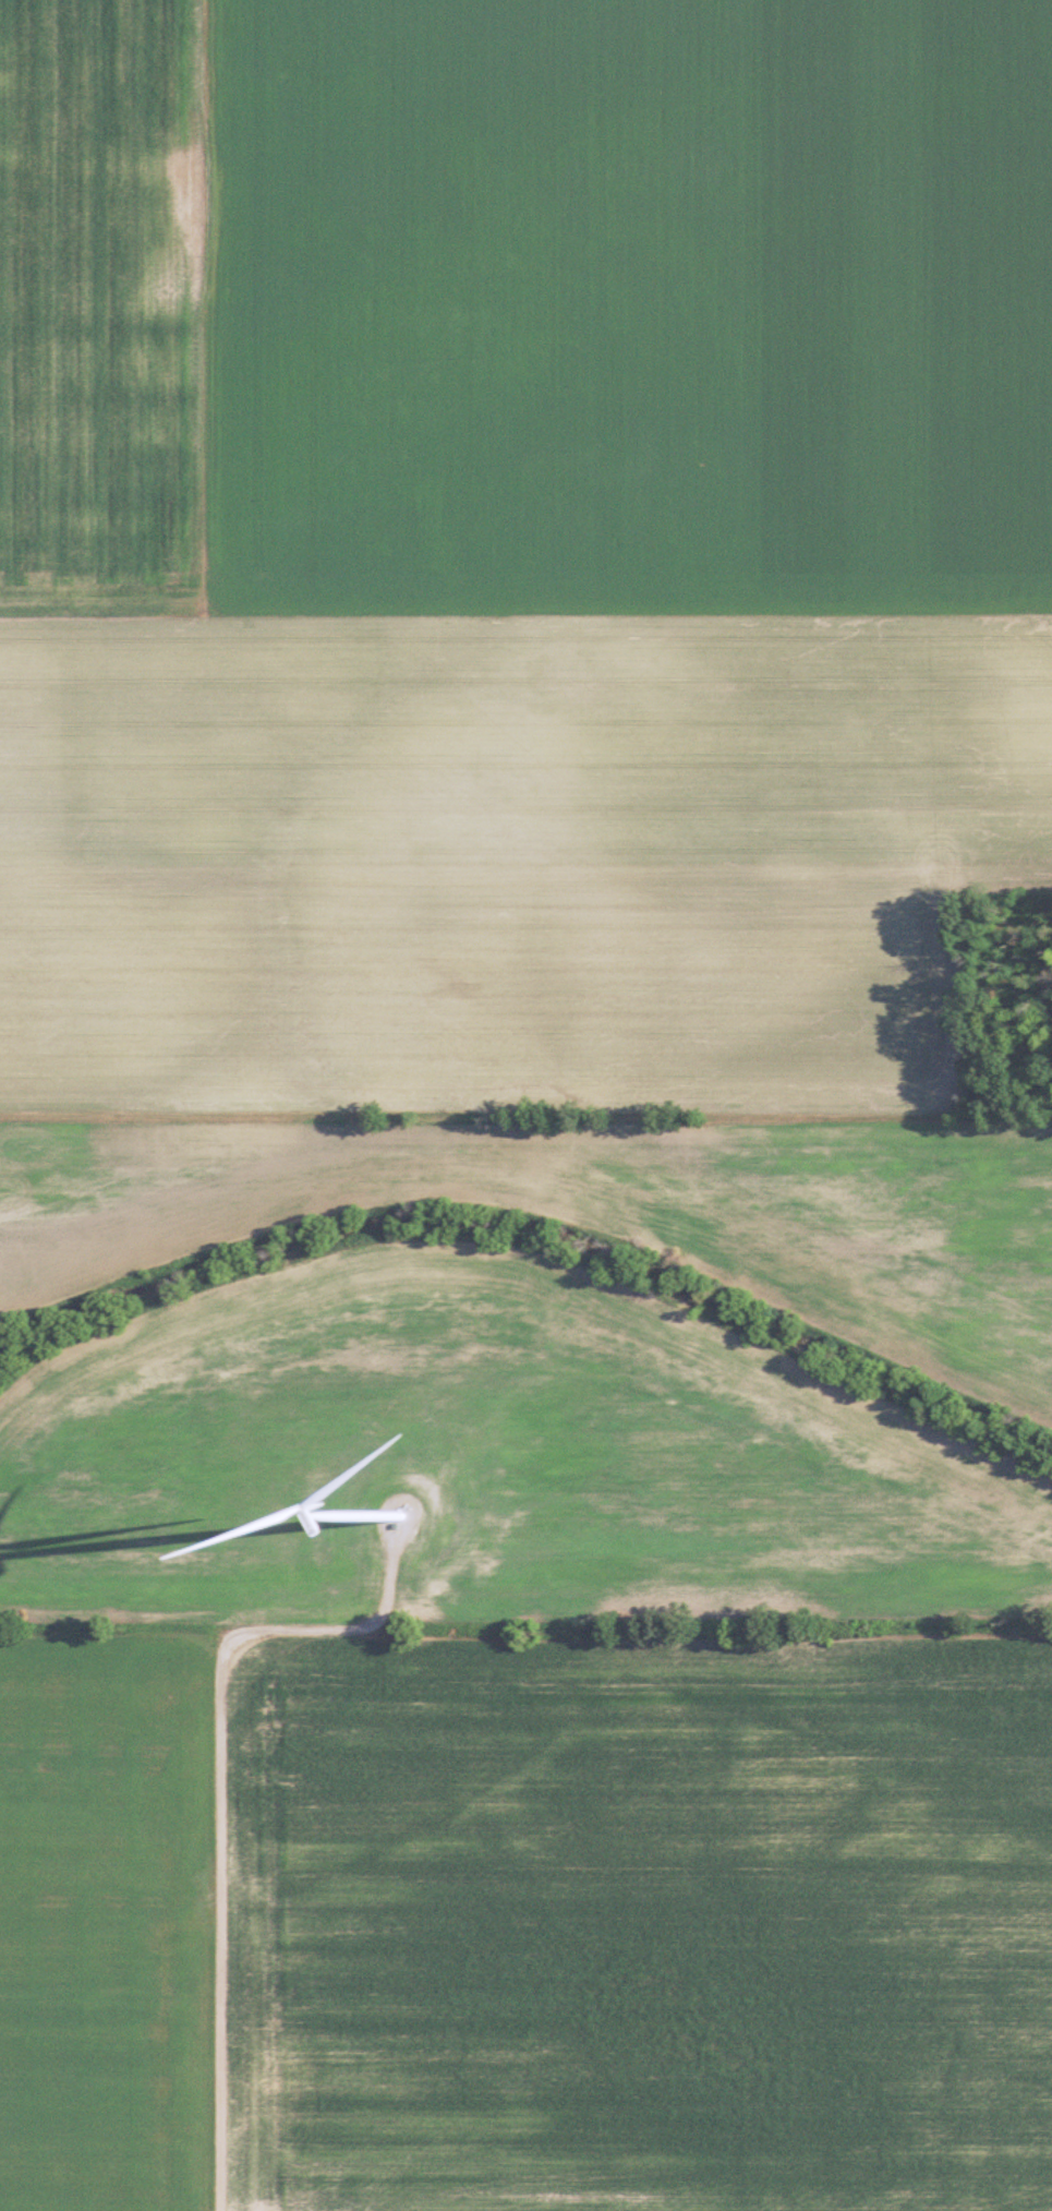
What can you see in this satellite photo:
river: (532, 1228)
wind turbine: (340, 1504)
road: (230, 1854)

